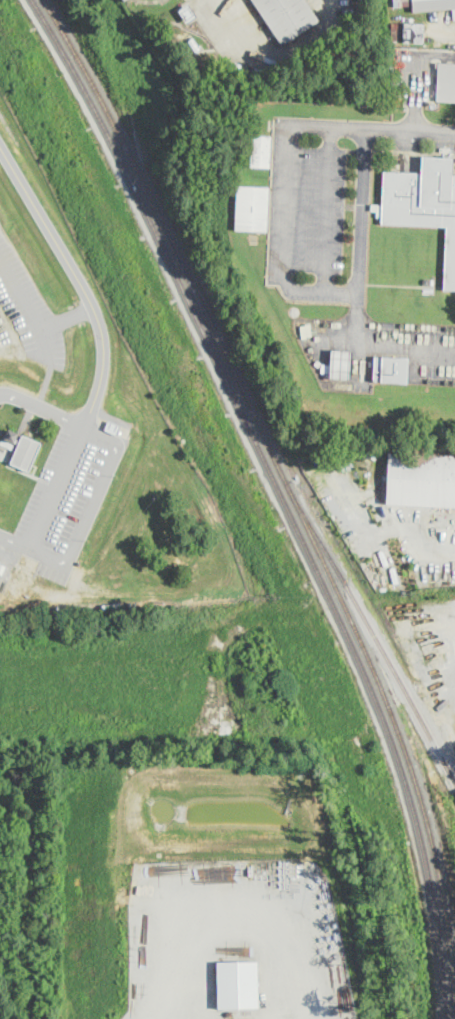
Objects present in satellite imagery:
building: (427, 5)
parking lot: (208, 7)
parking lot: (337, 10)
building: (188, 13)
building: (287, 17)
building: (407, 33)
building: (194, 43)
parking lot: (415, 71)
road: (415, 71)
building: (446, 82)
railway: (129, 85)
road: (372, 127)
building: (261, 151)
building: (423, 203)
building: (253, 208)
road: (361, 228)
road: (79, 279)
road: (306, 291)
railway: (199, 297)
road: (29, 308)
road: (66, 317)
building: (339, 364)
building: (391, 369)
road: (43, 406)
building: (113, 426)
building: (7, 443)
building: (23, 449)
building: (419, 478)
railway: (282, 494)
road: (385, 531)
road: (15, 541)
building: (0, 558)
building: (0, 561)
road: (65, 563)
building: (80, 609)
railway: (380, 644)
building: (228, 727)
railway: (418, 791)
building: (237, 983)

